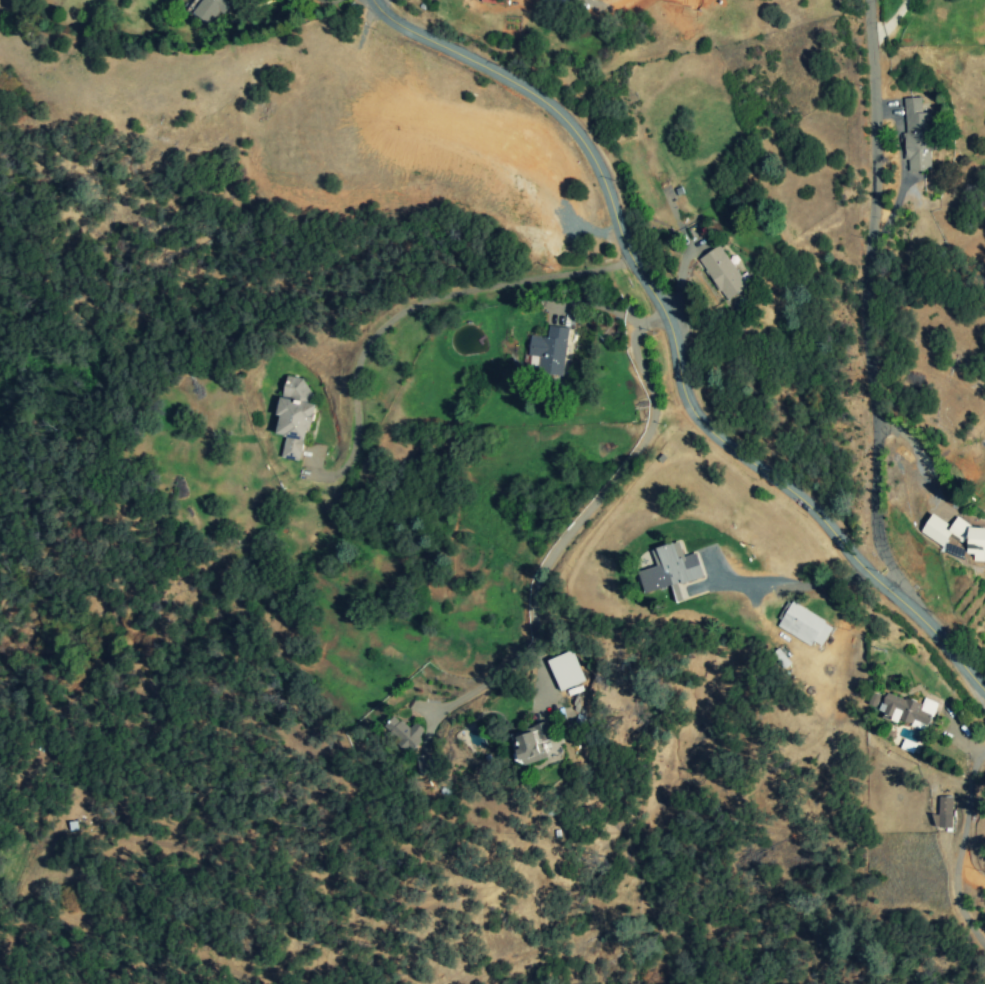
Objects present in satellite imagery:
building: (209, 9)
road: (891, 22)
building: (916, 135)
road: (871, 210)
building: (722, 272)
road: (407, 308)
road: (673, 343)
building: (550, 350)
building: (294, 417)
road: (615, 475)
road: (872, 514)
building: (956, 538)
building: (671, 570)
road: (782, 588)
building: (803, 624)
road: (479, 687)
road: (975, 699)
building: (873, 700)
building: (906, 709)
building: (405, 734)
building: (531, 744)
building: (943, 813)
road: (958, 852)

